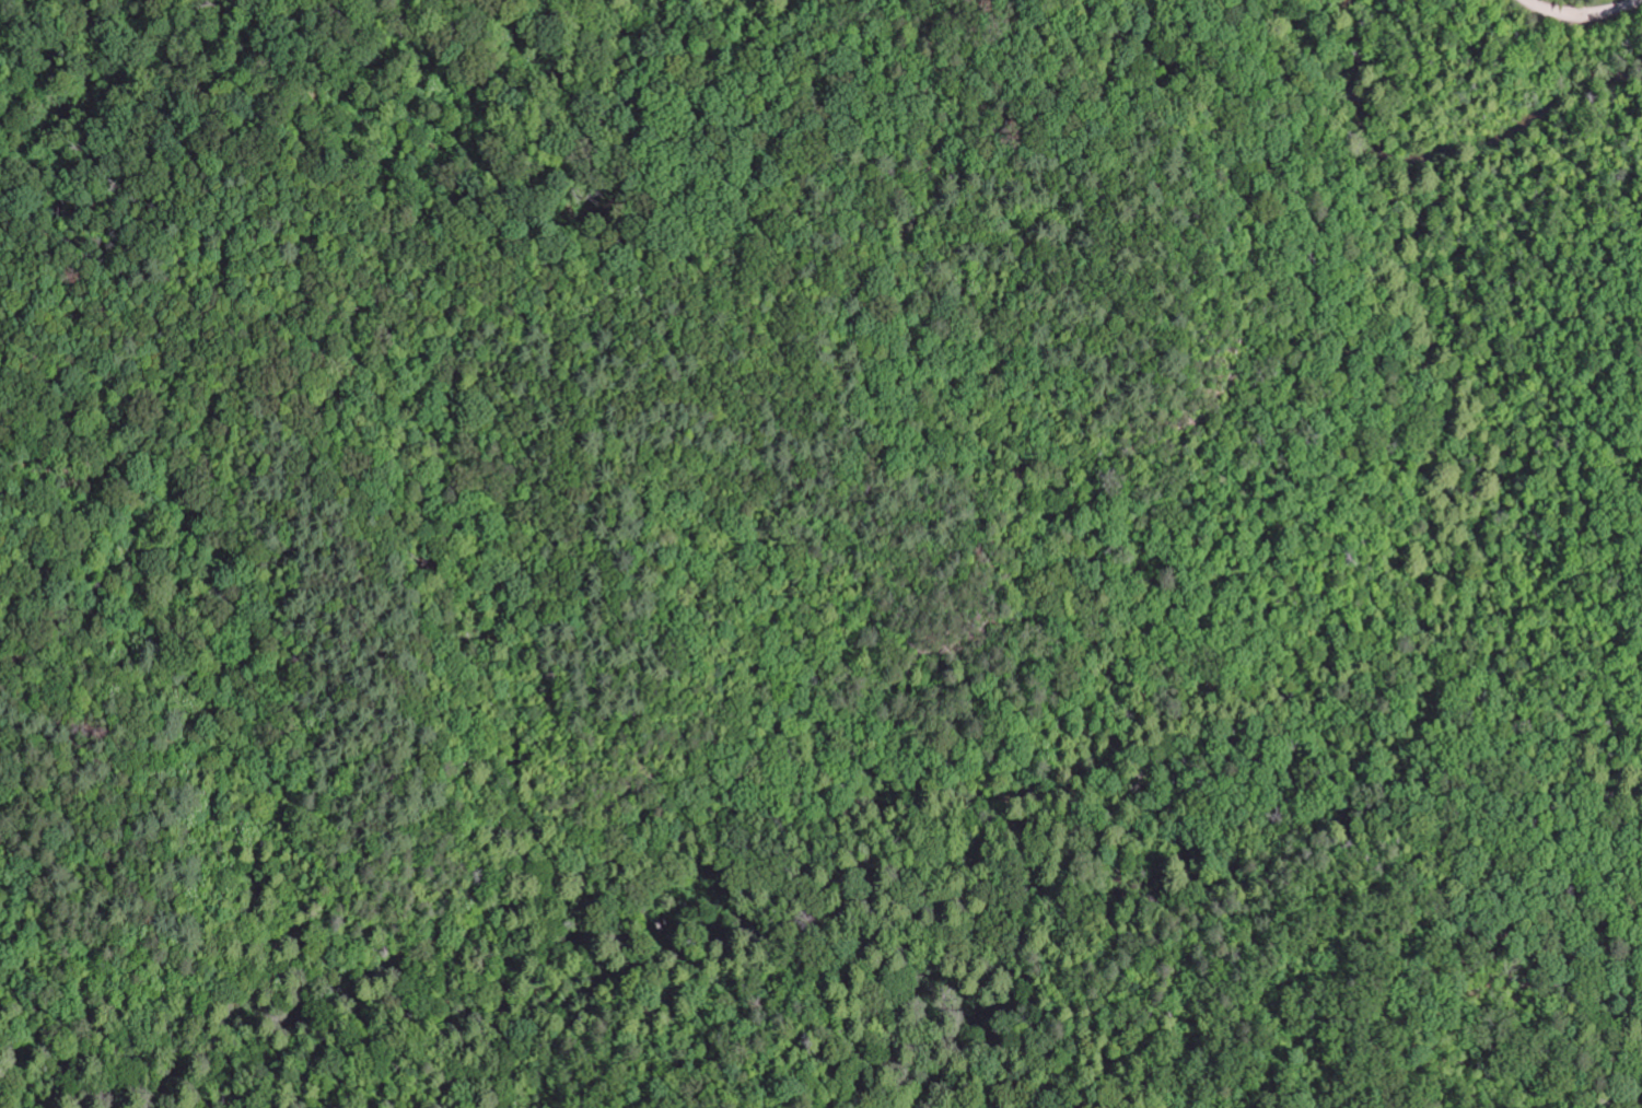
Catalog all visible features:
road: (1579, 9)
road: (1405, 182)

